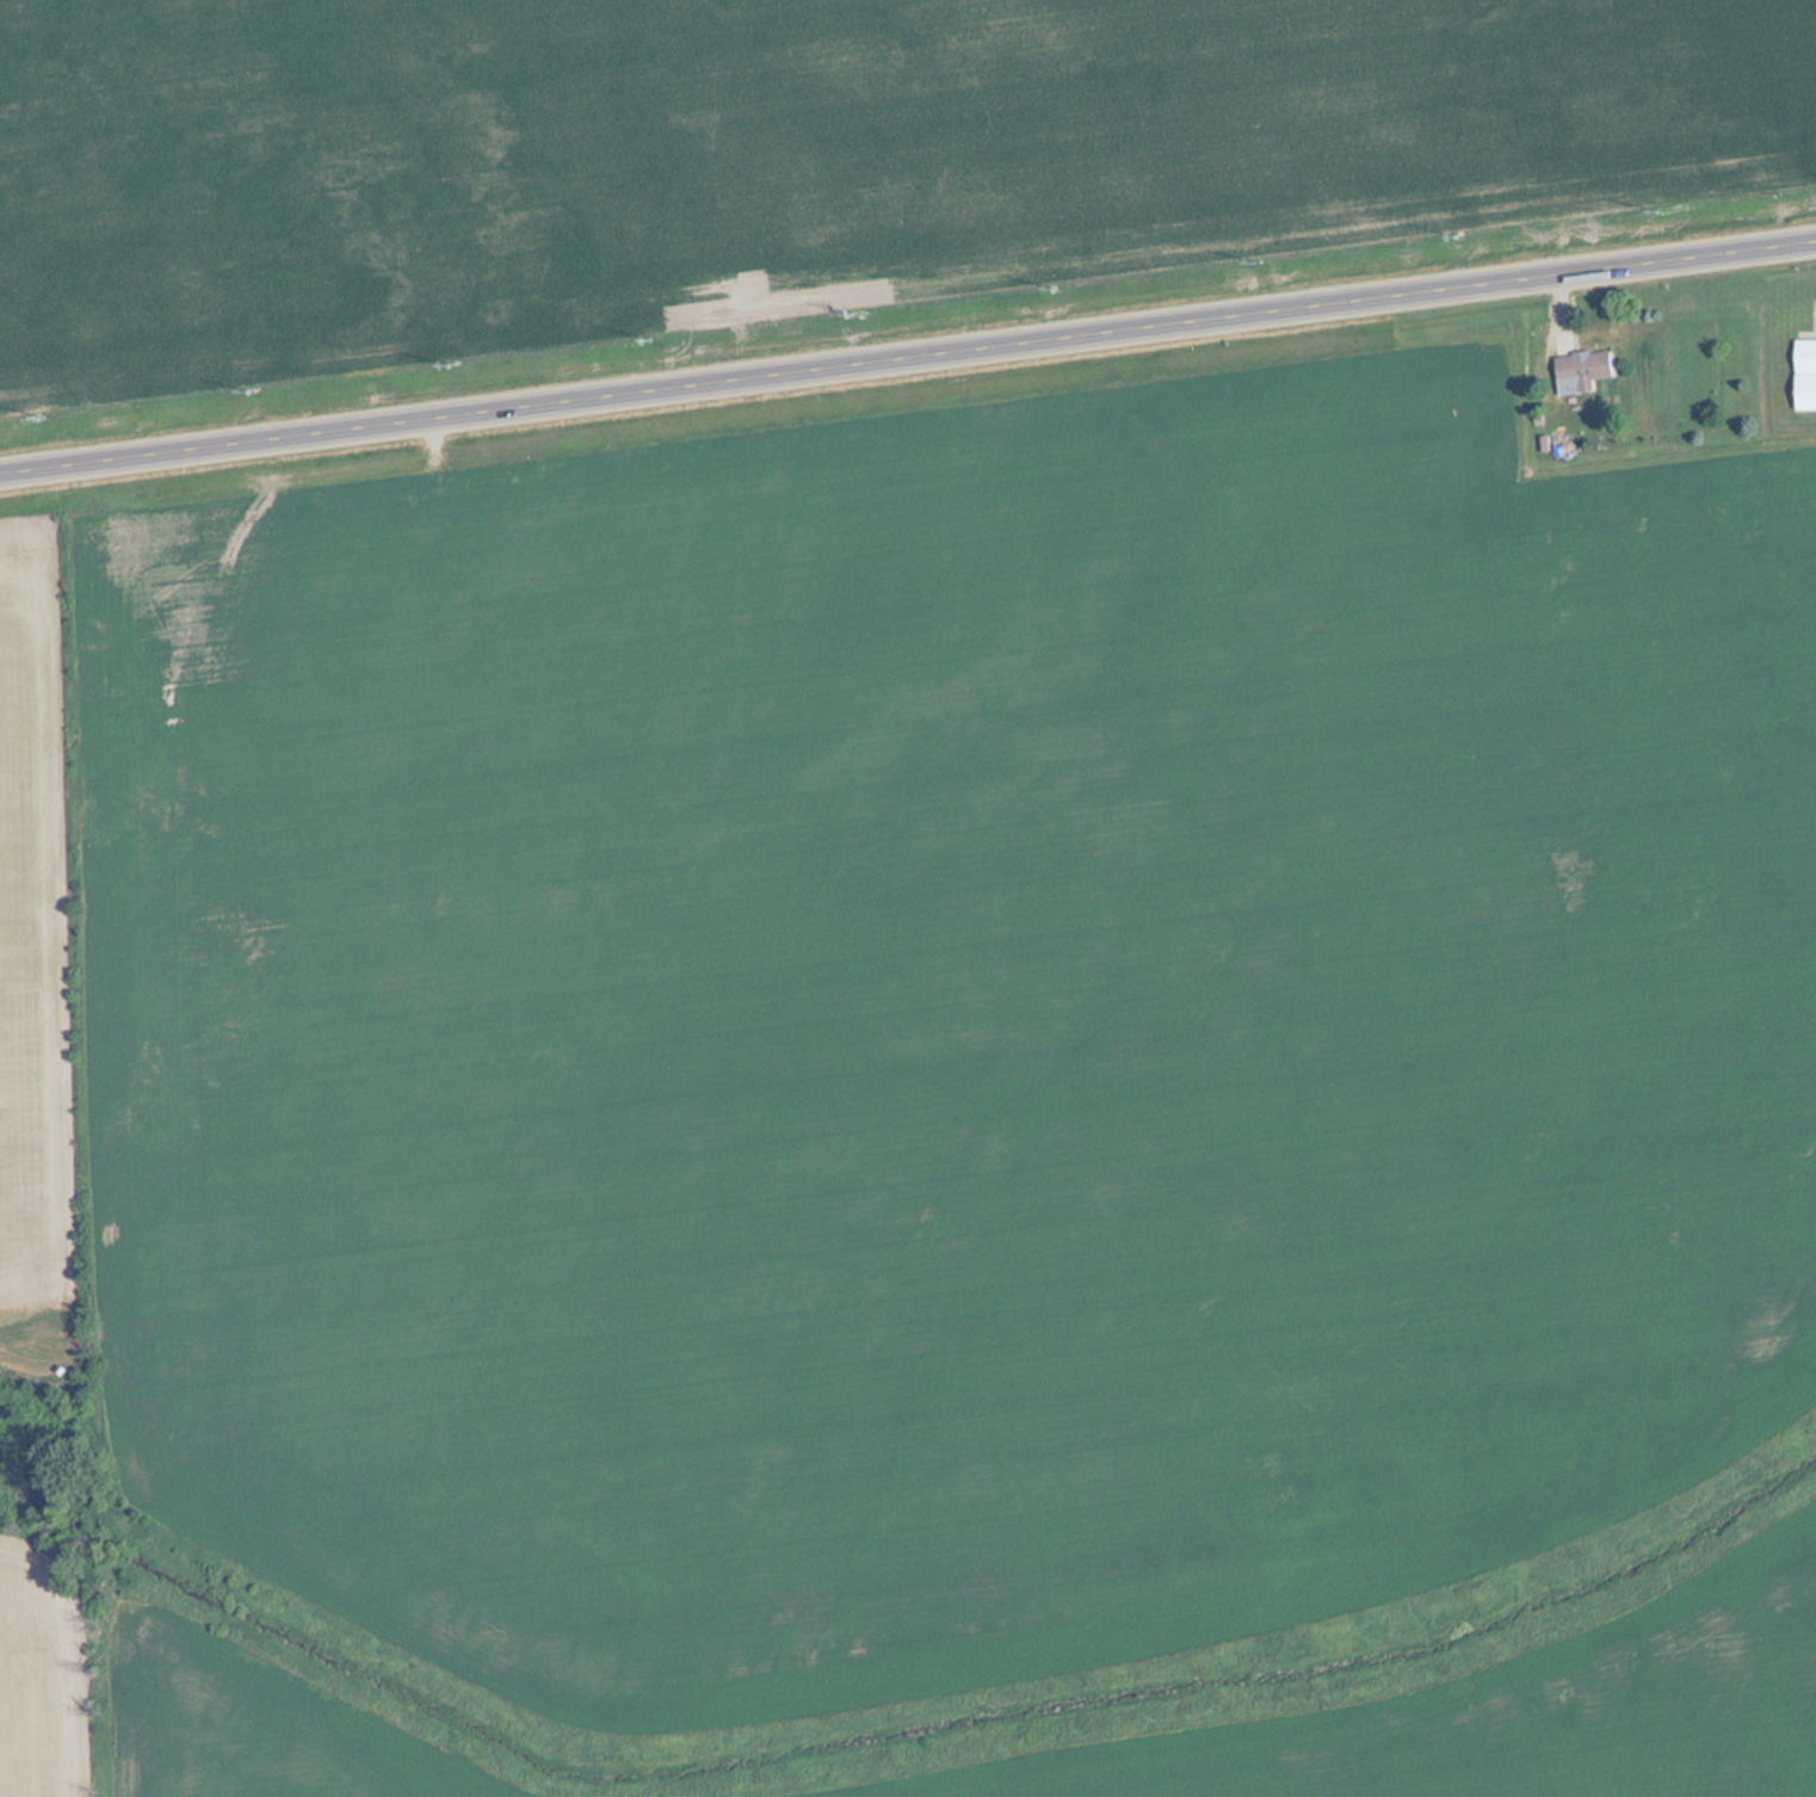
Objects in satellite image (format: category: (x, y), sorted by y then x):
road: (907, 353)
building: (1580, 369)
building: (1803, 373)

